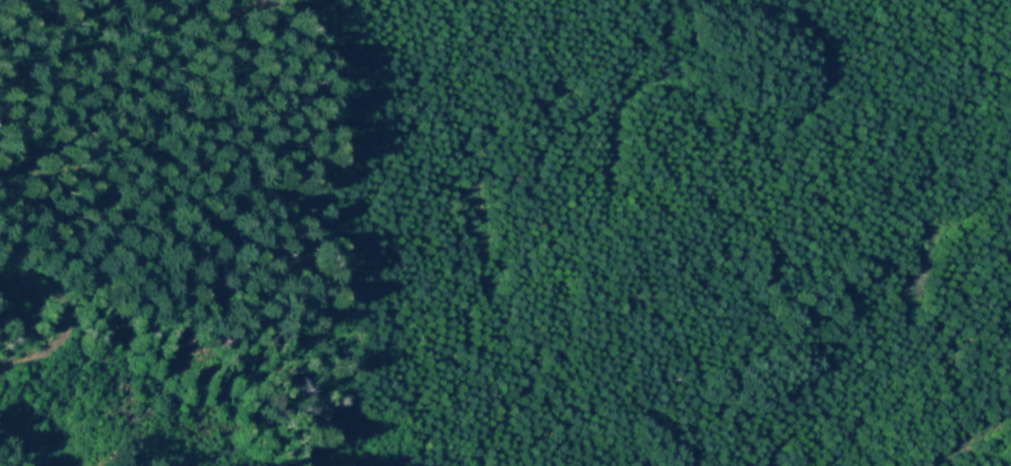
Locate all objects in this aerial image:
road: (993, 446)

